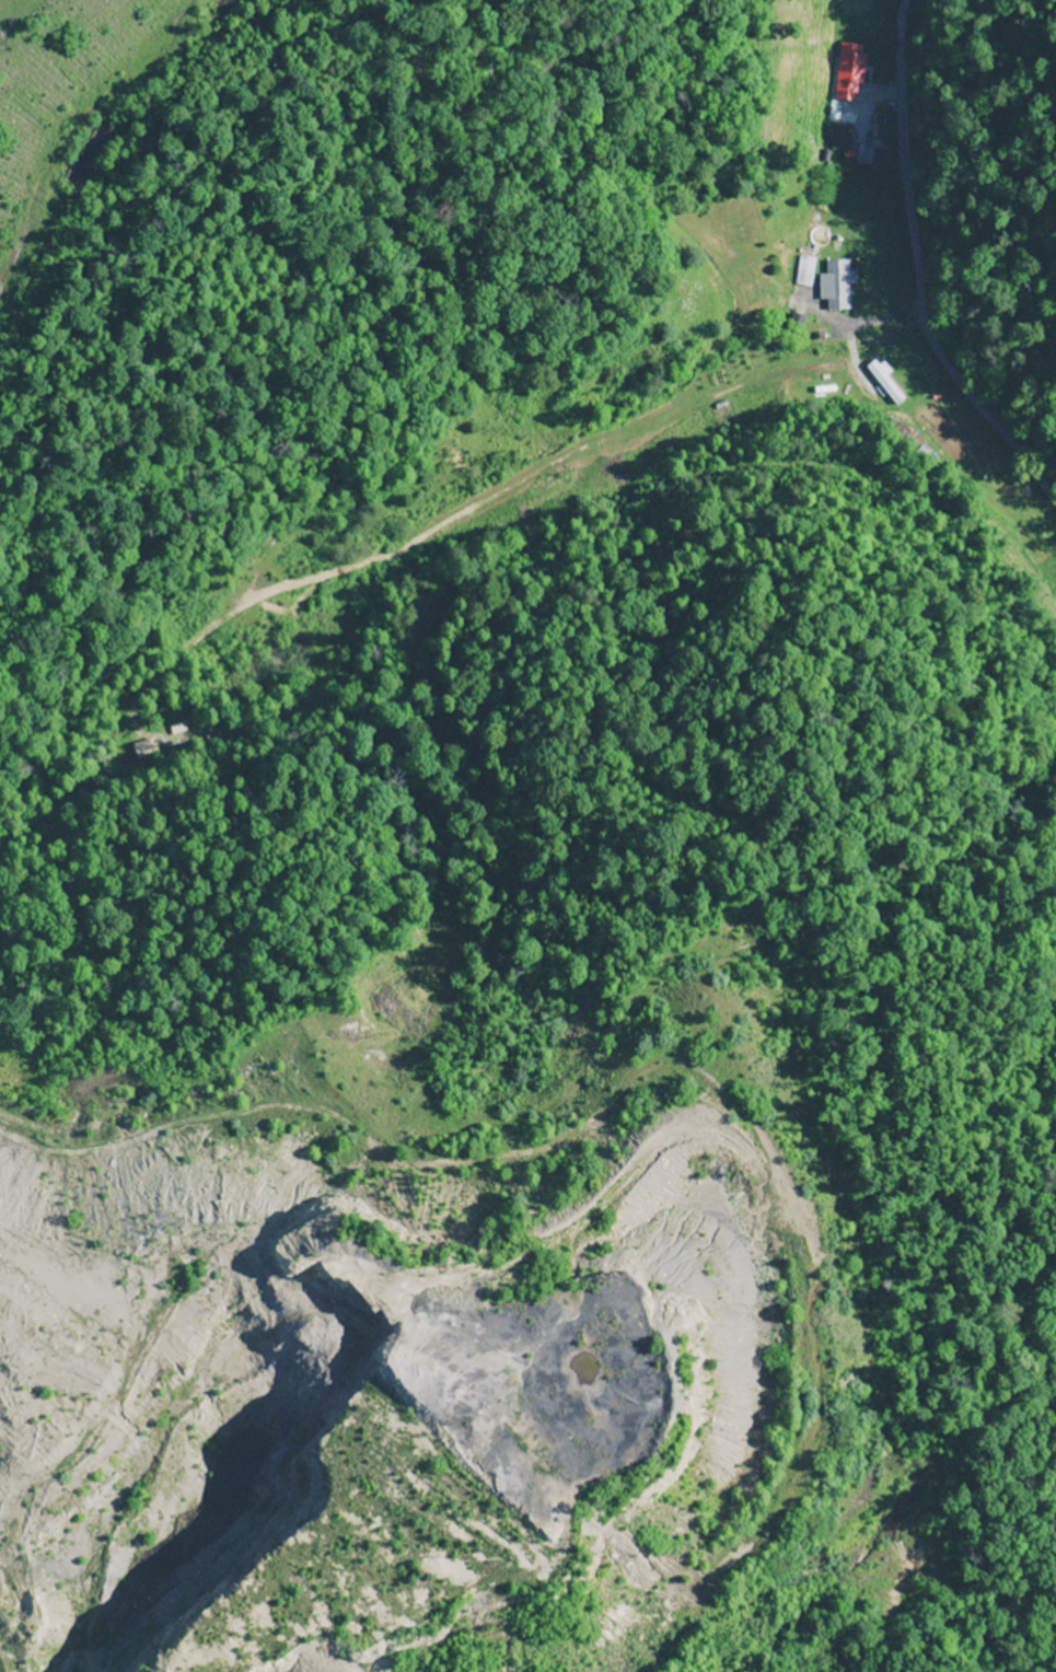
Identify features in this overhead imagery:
road: (902, 14)
building: (849, 71)
building: (840, 137)
building: (863, 155)
building: (804, 270)
building: (838, 283)
road: (918, 289)
building: (884, 383)

